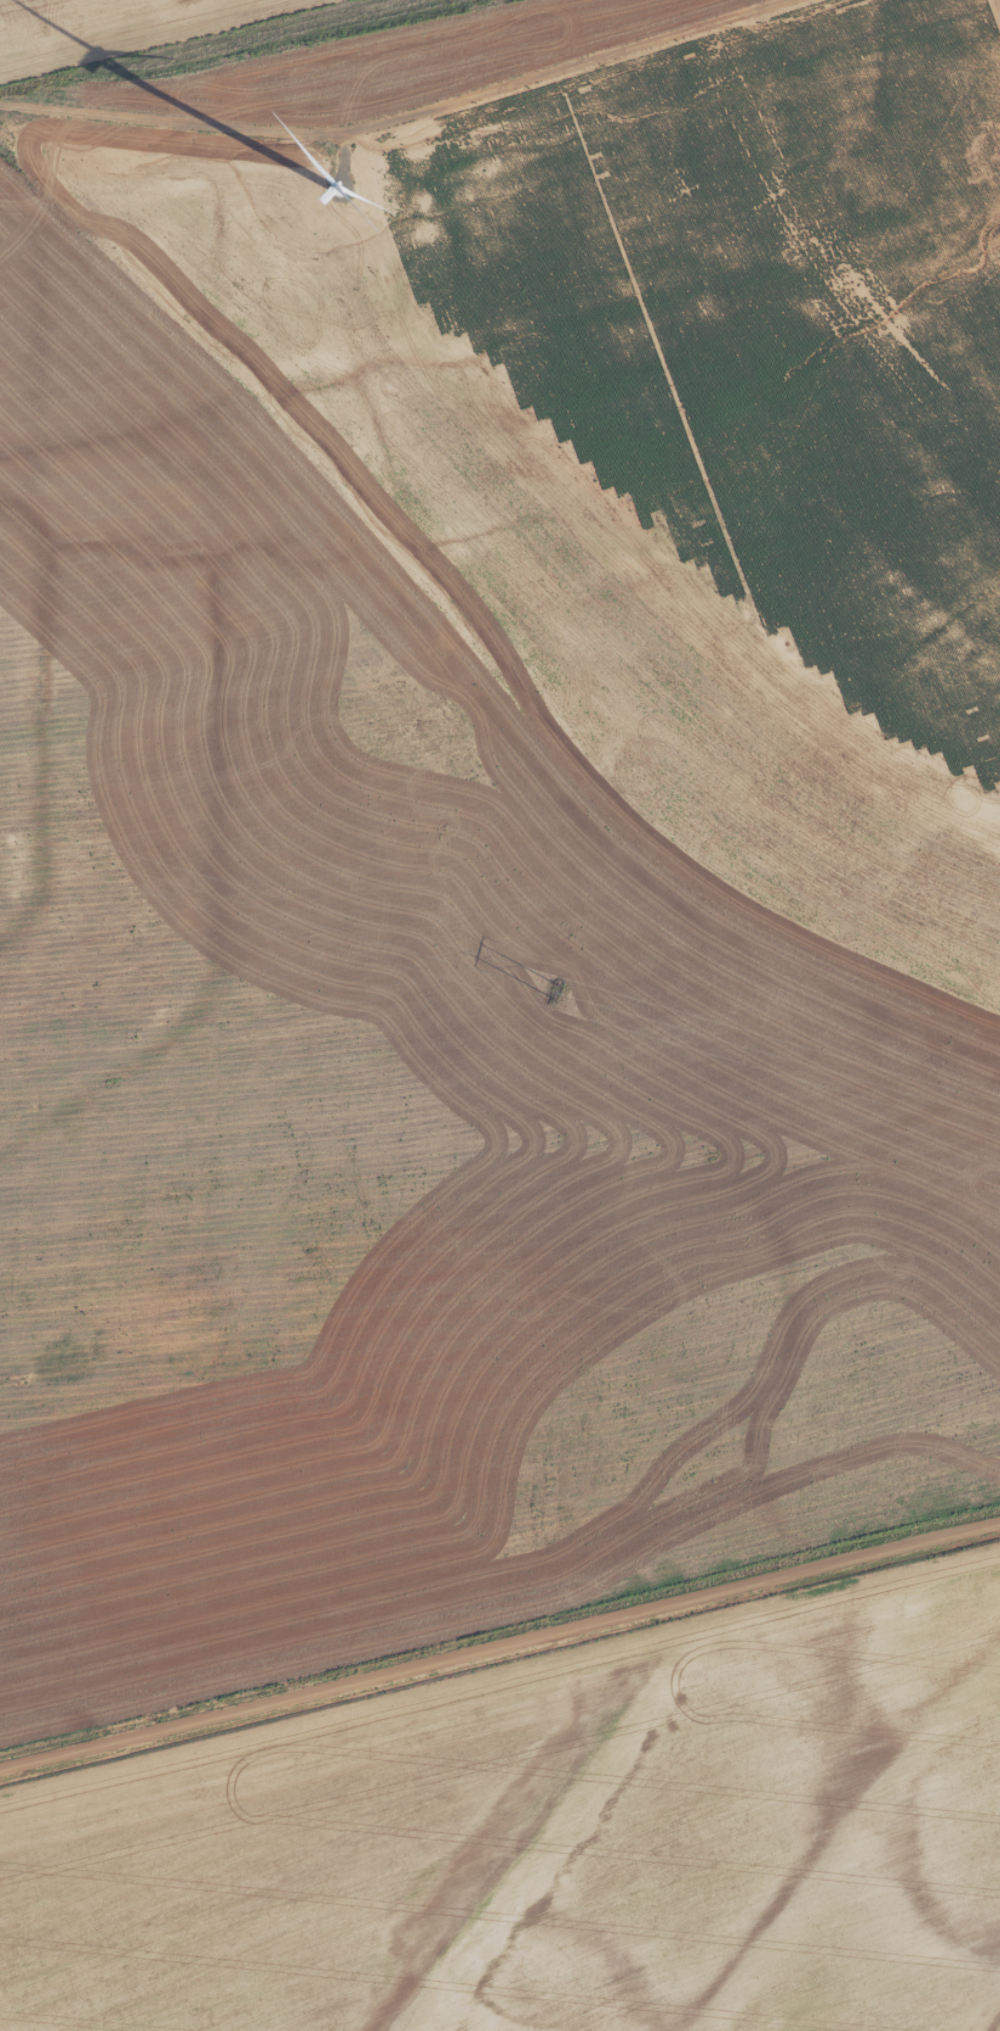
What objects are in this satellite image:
wind turbine: (342, 194)
power tower: (553, 990)
road: (500, 1642)

